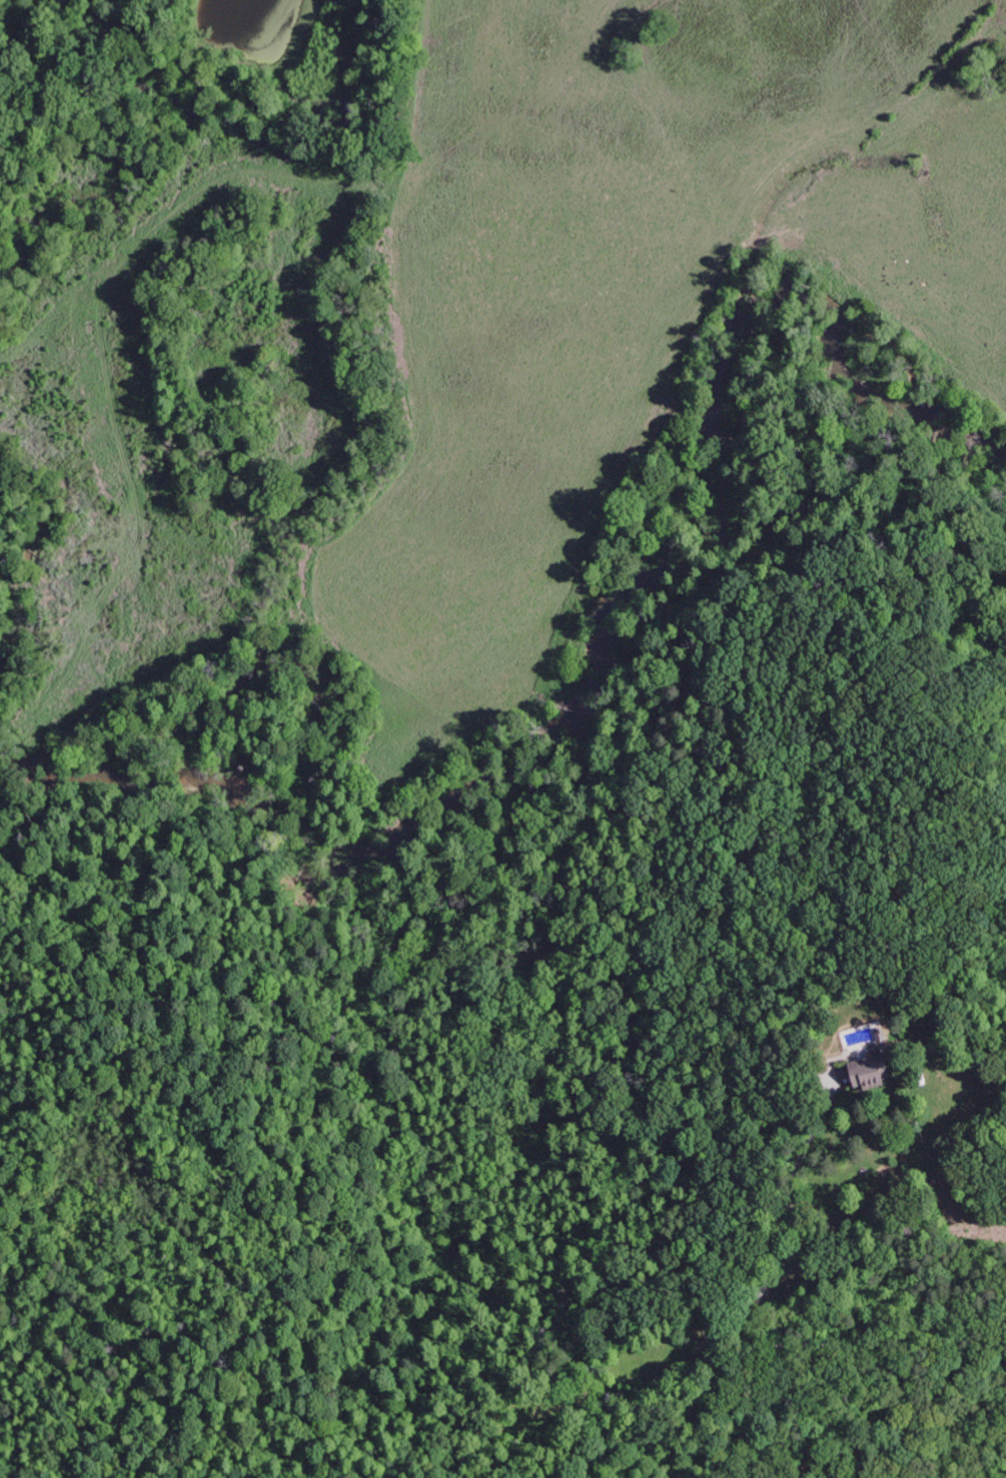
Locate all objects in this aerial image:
building: (863, 1072)

